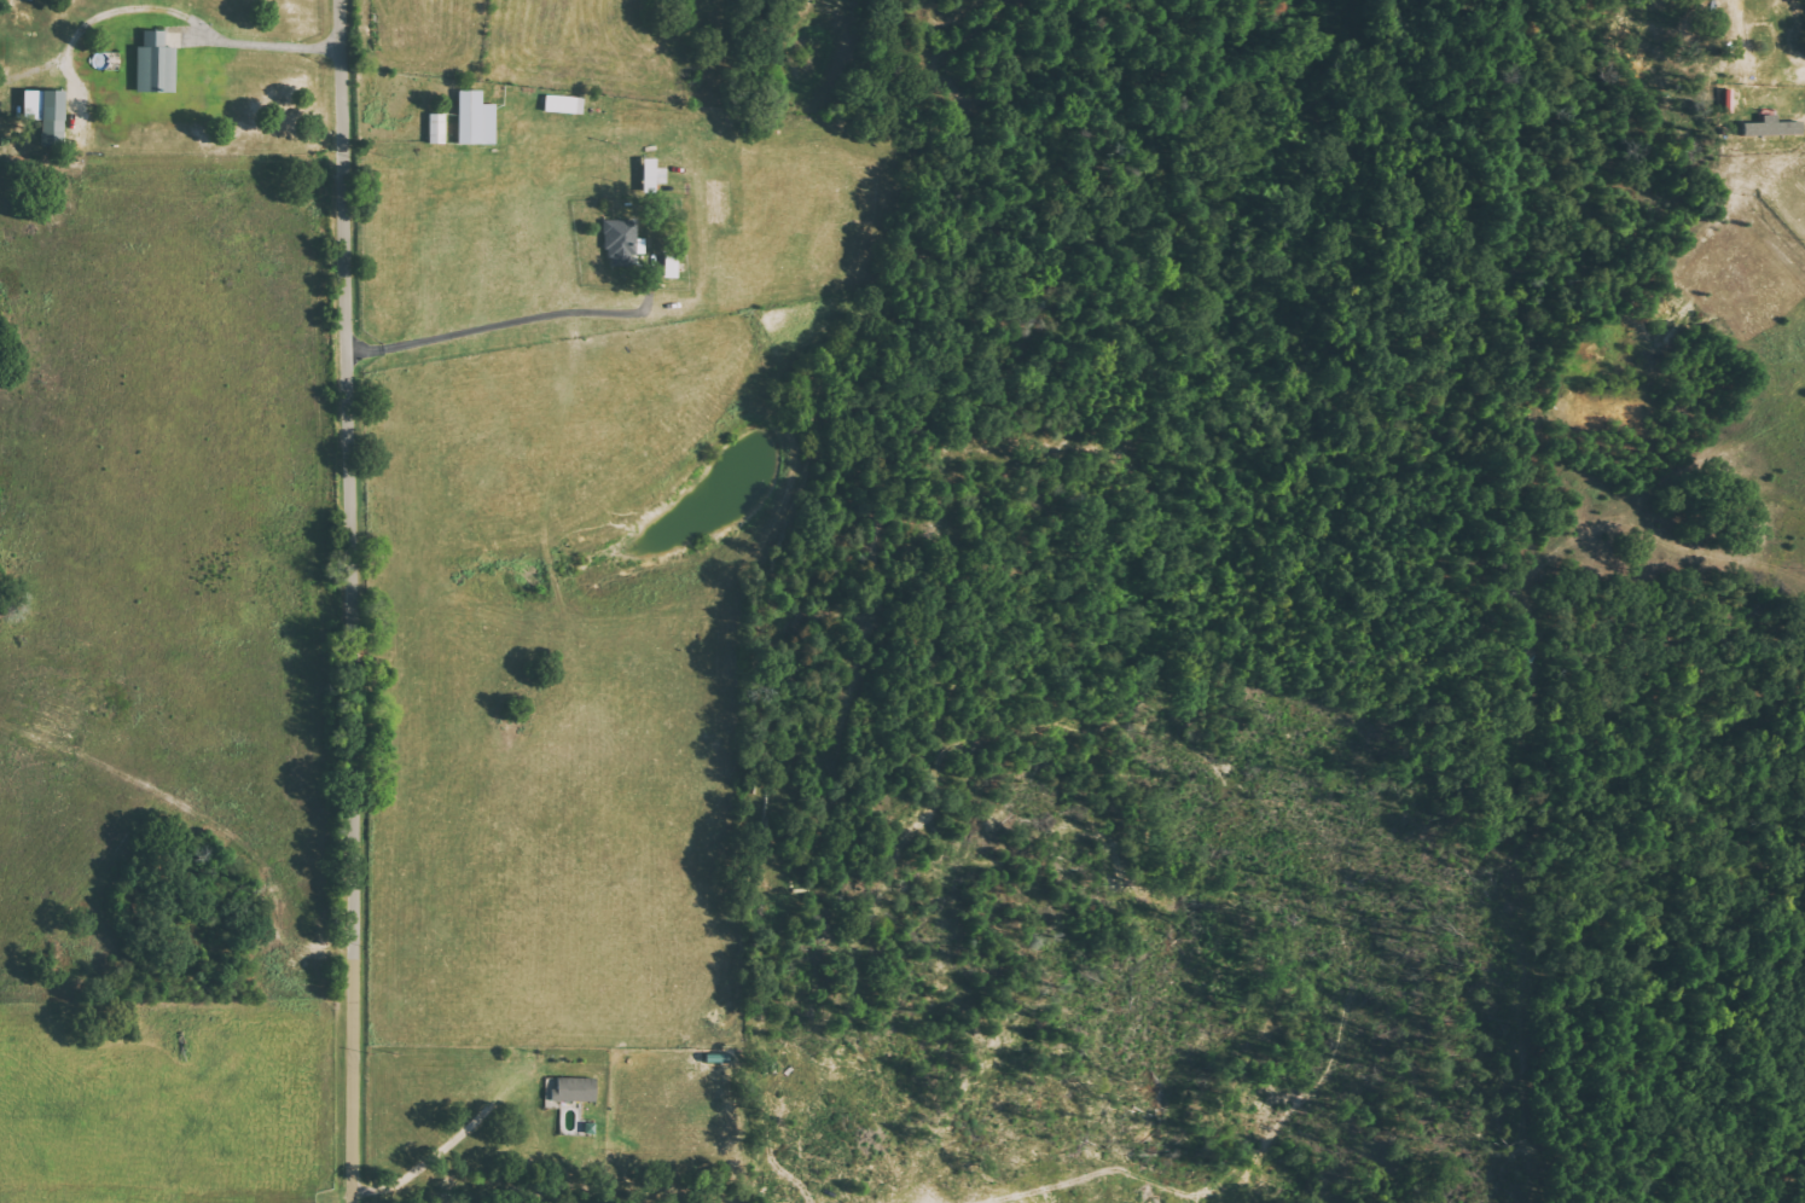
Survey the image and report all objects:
building: (152, 64)
building: (43, 112)
building: (472, 120)
building: (1769, 127)
building: (668, 267)
road: (346, 600)
building: (573, 1091)

